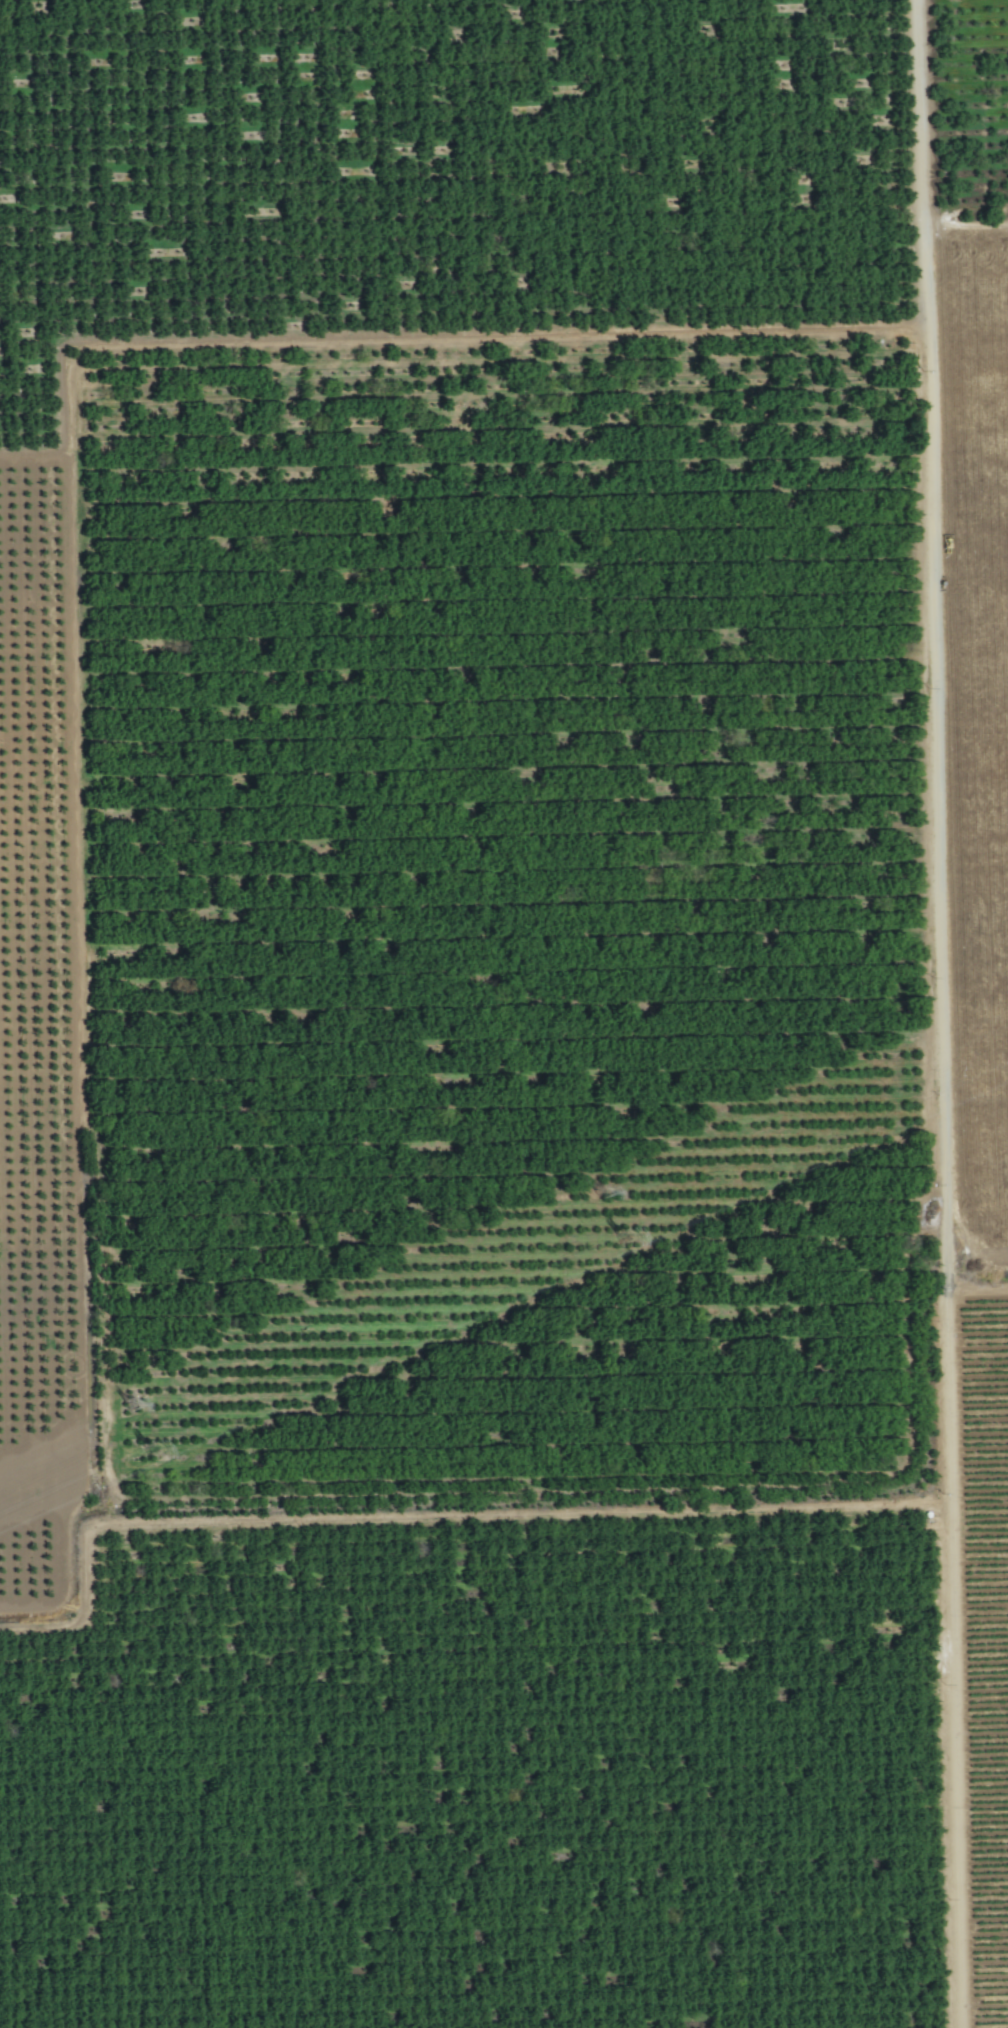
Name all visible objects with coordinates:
road: (940, 1014)
power tower: (602, 1197)
power tower: (621, 1241)
power tower: (131, 1409)
power tower: (149, 1451)

